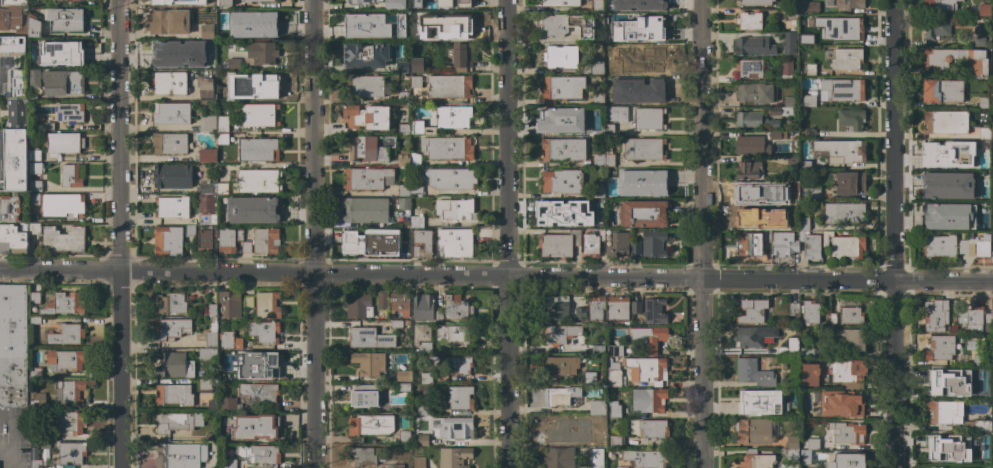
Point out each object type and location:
building: (65, 0)
building: (170, 0)
building: (257, 0)
building: (13, 2)
building: (364, 2)
building: (560, 2)
building: (752, 2)
building: (209, 3)
building: (224, 3)
building: (416, 3)
building: (444, 3)
building: (463, 3)
building: (394, 4)
building: (646, 4)
building: (849, 4)
building: (608, 5)
building: (939, 5)
building: (596, 6)
building: (992, 7)
building: (812, 9)
building: (984, 10)
building: (226, 14)
building: (790, 14)
building: (14, 19)
building: (65, 19)
building: (749, 20)
building: (169, 22)
building: (457, 23)
building: (365, 24)
building: (258, 25)
building: (567, 25)
building: (33, 26)
building: (645, 26)
building: (849, 27)
building: (936, 28)
building: (207, 31)
building: (425, 34)
building: (403, 35)
building: (609, 37)
building: (391, 38)
building: (815, 39)
building: (992, 40)
building: (979, 41)
building: (788, 43)
building: (12, 44)
building: (753, 46)
building: (62, 50)
building: (169, 50)
building: (262, 53)
building: (206, 54)
building: (368, 54)
building: (457, 55)
building: (560, 56)
building: (652, 58)
building: (846, 59)
building: (33, 62)
building: (231, 63)
building: (402, 63)
building: (416, 64)
building: (936, 65)
building: (596, 67)
building: (750, 67)
building: (616, 69)
building: (810, 69)
building: (785, 70)
building: (34, 78)
building: (415, 81)
building: (62, 82)
building: (17, 83)
building: (169, 83)
building: (256, 84)
building: (367, 86)
building: (449, 86)
building: (205, 88)
building: (561, 88)
building: (645, 88)
building: (610, 89)
building: (842, 89)
building: (942, 91)
building: (755, 93)
building: (221, 96)
building: (402, 97)
building: (598, 97)
building: (807, 100)
building: (789, 101)
building: (985, 101)
building: (781, 111)
building: (16, 113)
building: (69, 113)
building: (170, 113)
building: (616, 113)
building: (258, 115)
building: (365, 117)
building: (648, 118)
building: (562, 119)
building: (850, 119)
building: (444, 120)
building: (754, 121)
building: (210, 122)
building: (945, 122)
building: (222, 124)
building: (47, 126)
building: (403, 128)
building: (598, 128)
building: (609, 130)
building: (808, 132)
building: (992, 132)
building: (985, 133)
building: (777, 135)
building: (222, 139)
road: (891, 139)
building: (64, 143)
building: (169, 143)
building: (751, 145)
building: (369, 147)
building: (447, 148)
building: (563, 149)
building: (643, 149)
building: (257, 150)
building: (842, 150)
building: (939, 152)
building: (33, 155)
building: (207, 155)
building: (404, 157)
building: (14, 159)
building: (415, 159)
building: (598, 159)
building: (609, 160)
building: (791, 160)
building: (975, 165)
building: (749, 170)
building: (613, 173)
building: (70, 175)
building: (782, 175)
building: (172, 176)
building: (992, 176)
building: (35, 177)
building: (367, 178)
building: (451, 179)
building: (258, 180)
building: (646, 180)
building: (562, 181)
building: (849, 183)
building: (941, 183)
building: (789, 186)
building: (207, 188)
building: (222, 188)
building: (403, 190)
building: (416, 190)
building: (610, 190)
building: (598, 191)
building: (814, 193)
building: (755, 194)
building: (983, 194)
building: (34, 198)
building: (206, 204)
building: (403, 204)
building: (62, 205)
building: (172, 206)
building: (9, 208)
building: (262, 208)
building: (455, 209)
building: (365, 210)
building: (559, 212)
building: (643, 213)
building: (842, 213)
building: (943, 213)
building: (759, 214)
building: (597, 217)
building: (231, 218)
building: (207, 219)
building: (416, 220)
building: (407, 222)
building: (977, 222)
building: (789, 224)
building: (804, 224)
building: (992, 227)
building: (34, 228)
building: (190, 229)
road: (120, 233)
road: (313, 233)
road: (507, 233)
road: (699, 234)
building: (766, 236)
building: (13, 237)
building: (63, 239)
building: (265, 240)
building: (167, 241)
building: (205, 241)
building: (225, 241)
building: (363, 241)
building: (243, 242)
building: (397, 242)
building: (454, 242)
building: (592, 243)
building: (653, 243)
building: (749, 243)
building: (427, 244)
building: (558, 244)
building: (784, 244)
building: (980, 244)
building: (617, 245)
building: (939, 245)
building: (810, 246)
building: (844, 246)
building: (963, 247)
building: (635, 248)
building: (992, 256)
road: (397, 275)
road: (843, 278)
road: (942, 280)
building: (34, 297)
building: (382, 300)
building: (248, 301)
building: (67, 303)
building: (171, 303)
building: (230, 303)
building: (399, 303)
building: (268, 304)
building: (359, 305)
building: (422, 307)
building: (456, 307)
building: (555, 307)
building: (595, 307)
building: (617, 307)
building: (636, 307)
building: (794, 308)
building: (654, 310)
building: (751, 311)
building: (210, 312)
building: (809, 312)
building: (992, 312)
building: (580, 314)
building: (851, 315)
building: (934, 315)
building: (438, 316)
building: (833, 318)
building: (971, 318)
building: (35, 321)
building: (396, 323)
building: (987, 324)
building: (171, 328)
building: (263, 331)
building: (420, 333)
building: (559, 333)
building: (65, 334)
building: (452, 334)
building: (208, 337)
building: (748, 337)
building: (369, 338)
building: (648, 338)
building: (850, 338)
building: (229, 341)
building: (13, 346)
building: (425, 347)
building: (940, 348)
building: (597, 349)
building: (789, 349)
building: (613, 350)
building: (808, 352)
building: (207, 354)
building: (65, 359)
building: (980, 359)
building: (368, 363)
building: (453, 363)
building: (262, 364)
building: (173, 365)
building: (559, 366)
building: (646, 369)
building: (36, 373)
building: (753, 373)
building: (848, 373)
road: (891, 373)
building: (810, 374)
building: (403, 375)
building: (613, 375)
building: (226, 376)
building: (426, 378)
building: (589, 378)
building: (939, 379)
building: (204, 383)
building: (403, 387)
building: (68, 391)
building: (980, 391)
building: (259, 392)
building: (174, 395)
building: (559, 396)
building: (459, 397)
building: (37, 398)
building: (364, 399)
building: (648, 399)
building: (211, 400)
building: (848, 402)
building: (759, 403)
building: (227, 404)
building: (597, 407)
building: (424, 409)
building: (614, 409)
building: (808, 409)
building: (942, 411)
building: (69, 422)
building: (176, 422)
building: (370, 424)
building: (982, 425)
building: (992, 425)
building: (255, 426)
building: (453, 427)
building: (562, 427)
building: (752, 431)
building: (652, 433)
building: (848, 433)
building: (404, 436)
building: (211, 437)
building: (35, 439)
building: (421, 440)
building: (598, 440)
building: (615, 441)
building: (792, 442)
building: (812, 444)
building: (941, 446)
building: (70, 453)
building: (264, 454)
building: (791, 454)
building: (179, 455)
building: (367, 456)
building: (983, 456)
building: (454, 457)
building: (558, 458)
building: (596, 458)
building: (645, 458)
building: (756, 459)
building: (804, 459)
building: (848, 460)
building: (35, 462)
building: (418, 462)
building: (230, 463)
building: (397, 466)
building: (622, 467)
building: (961, 467)

